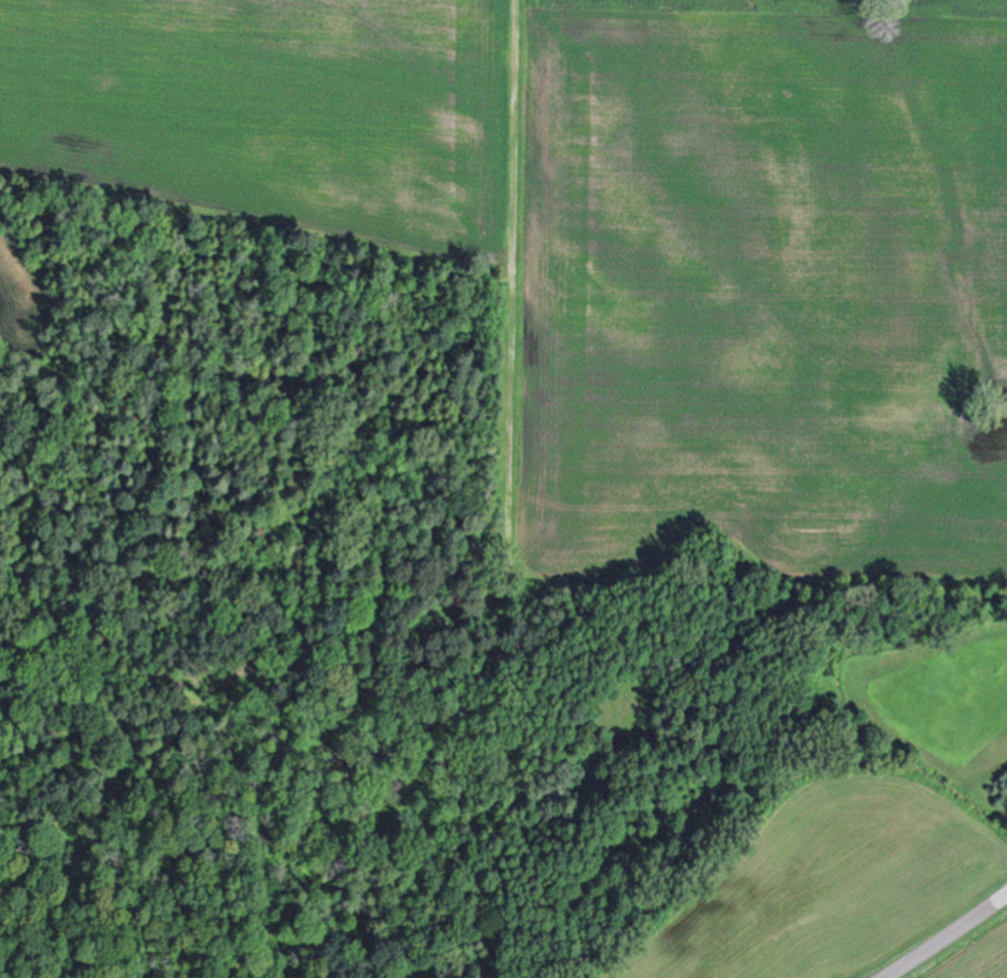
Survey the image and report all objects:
road: (512, 279)
road: (947, 937)

